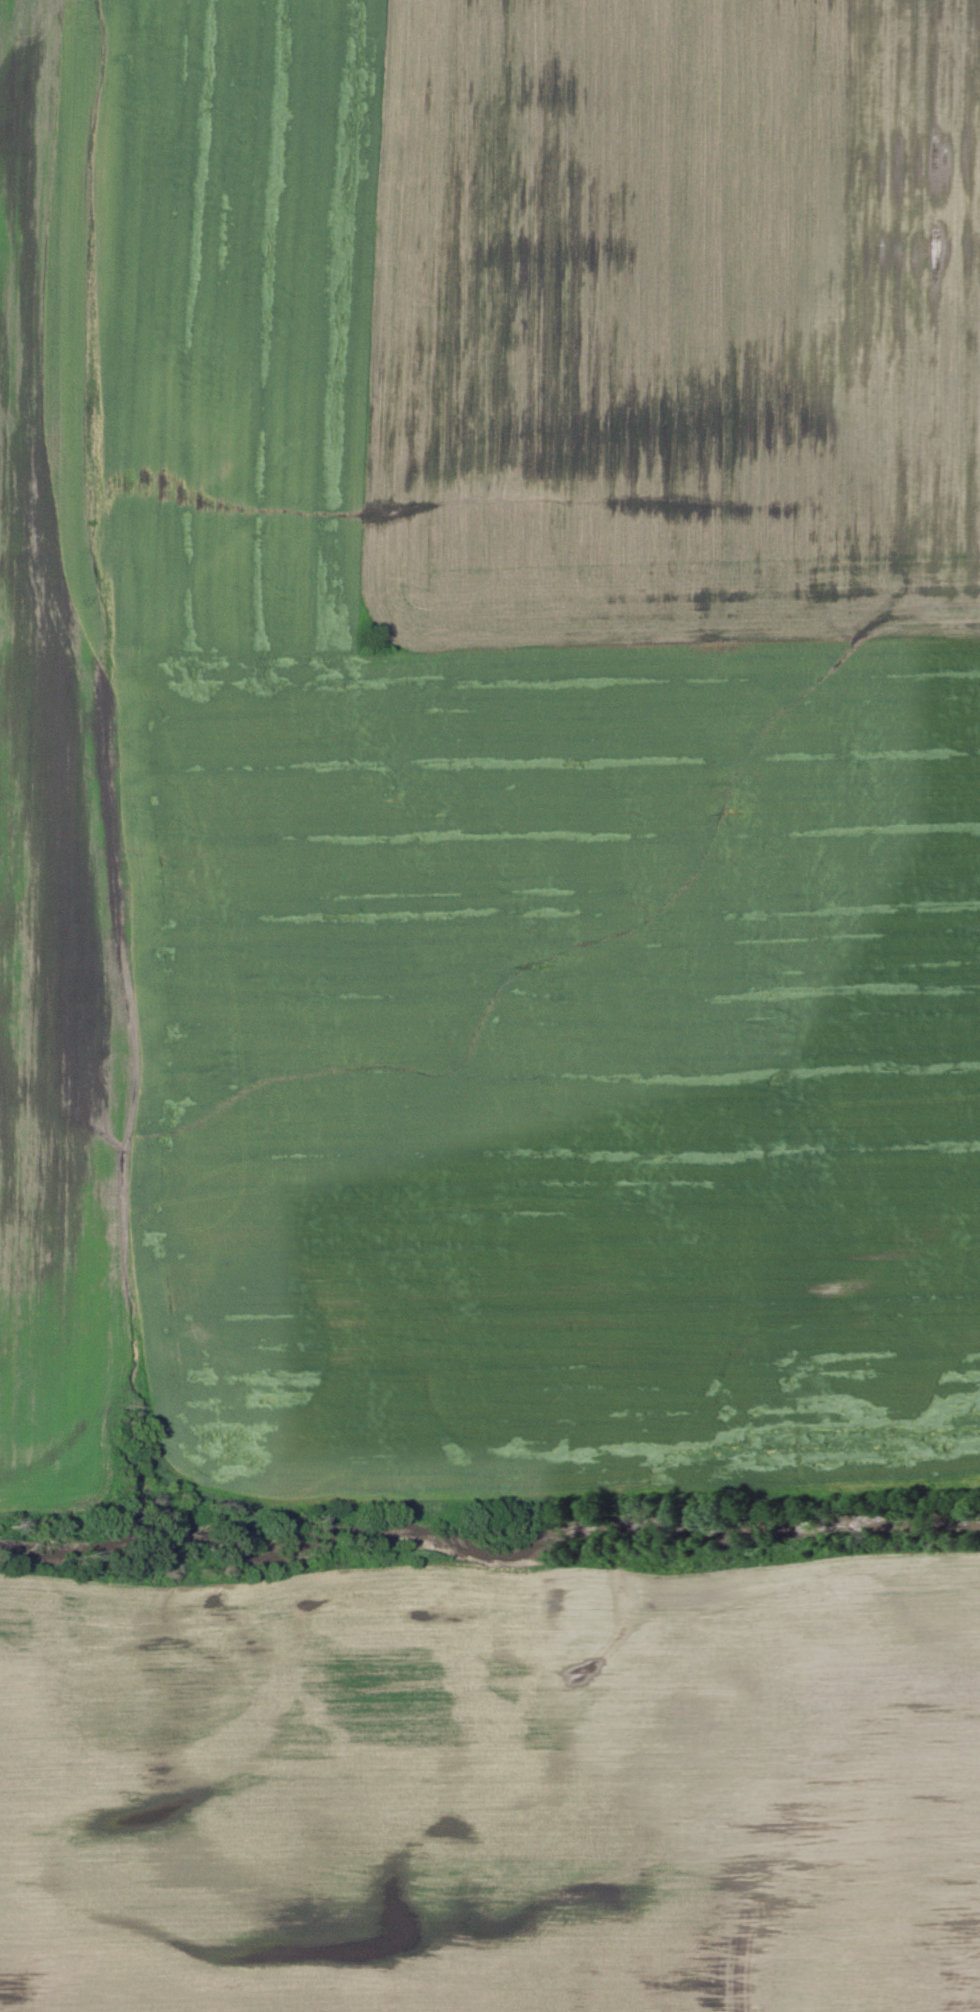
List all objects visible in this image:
crop: (494, 1789)

